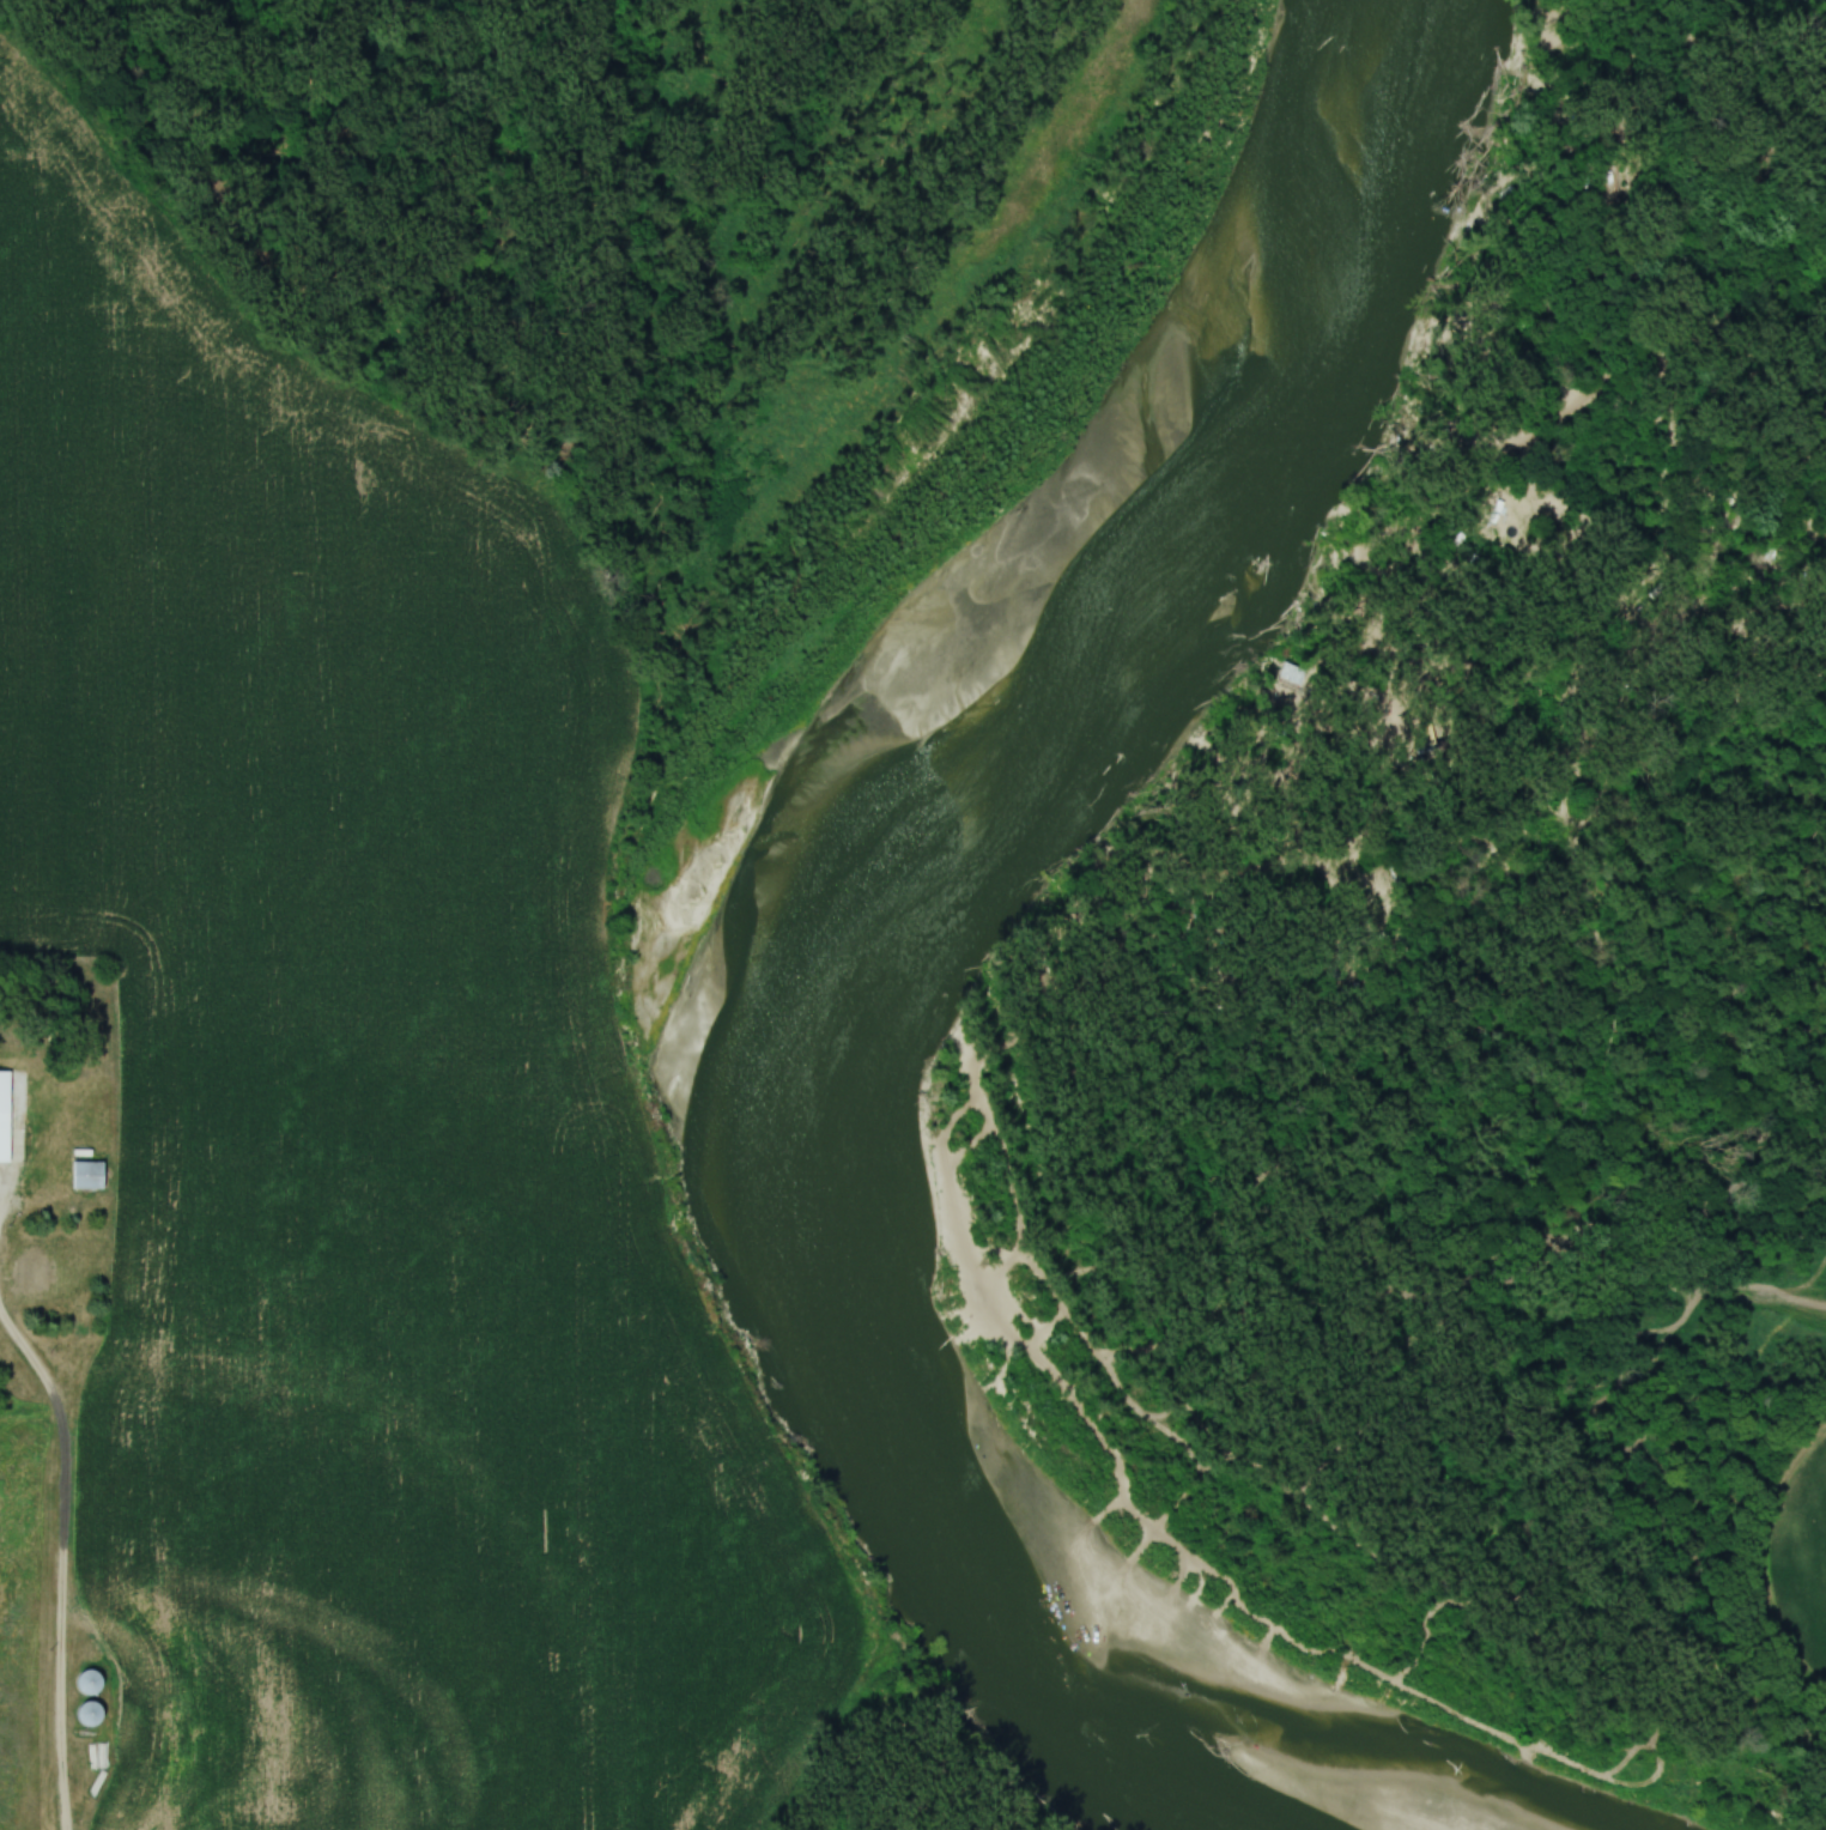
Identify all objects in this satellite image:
road: (1560, 134)
river: (790, 939)
building: (7, 1134)
building: (87, 1172)
road: (6, 1202)
building: (40, 1266)
road: (63, 1559)
building: (95, 1679)
building: (92, 1711)

